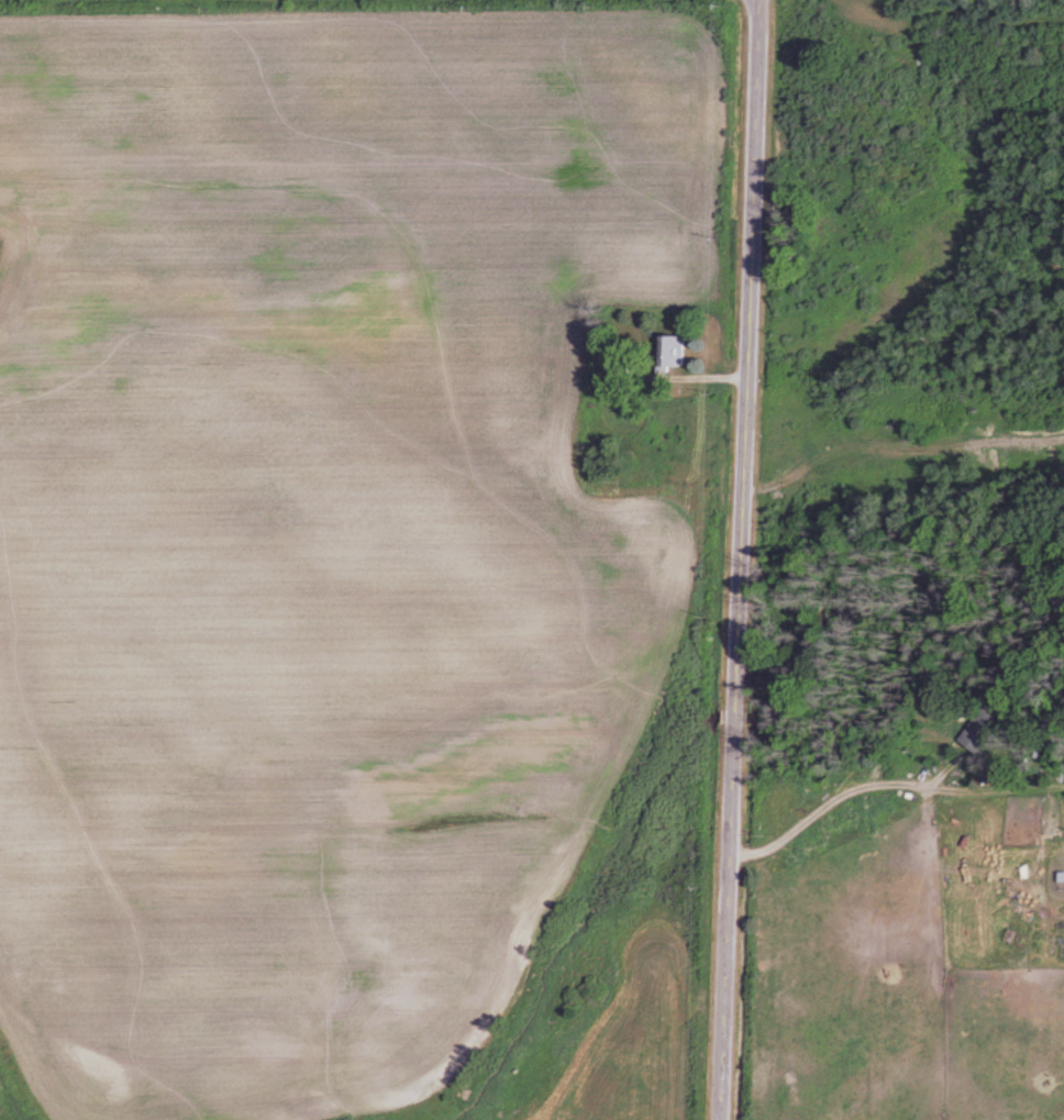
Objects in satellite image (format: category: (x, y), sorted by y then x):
building: (665, 351)
road: (740, 559)
building: (972, 730)

